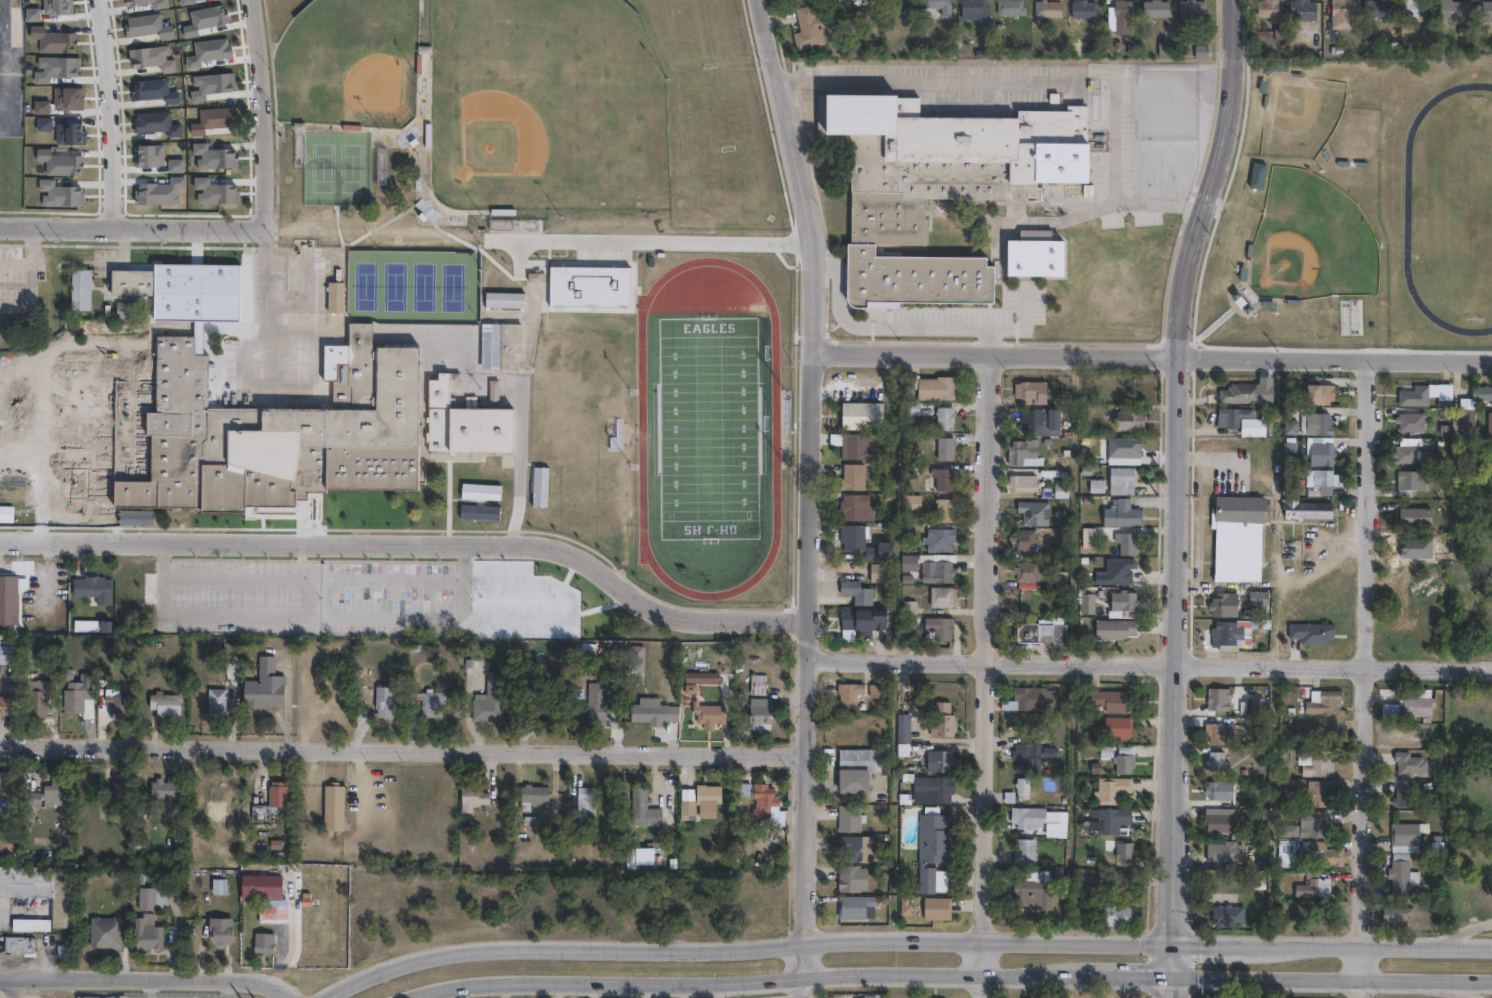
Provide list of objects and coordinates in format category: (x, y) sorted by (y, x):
building: (900, 0)
road: (2, 7)
building: (1011, 7)
building: (1049, 8)
building: (1084, 8)
building: (1301, 8)
building: (1379, 8)
building: (1414, 8)
building: (1157, 9)
building: (1268, 9)
building: (1454, 9)
building: (1486, 9)
building: (930, 11)
building: (977, 11)
building: (1125, 11)
building: (1191, 11)
building: (1339, 15)
road: (268, 19)
building: (810, 26)
road: (778, 36)
building: (1168, 48)
road: (4, 55)
park: (352, 65)
road: (1053, 82)
road: (260, 95)
park: (551, 107)
road: (110, 116)
building: (1255, 165)
building: (1257, 175)
building: (938, 186)
road: (394, 194)
road: (819, 204)
track: (1406, 207)
road: (151, 234)
road: (485, 244)
park: (1308, 247)
road: (124, 248)
building: (1035, 256)
building: (210, 267)
building: (131, 280)
parking lot: (21, 282)
building: (79, 287)
park: (415, 289)
building: (211, 296)
building: (334, 296)
building: (504, 299)
road: (798, 302)
building: (125, 308)
road: (182, 322)
road: (889, 328)
parking lot: (294, 336)
building: (498, 343)
building: (101, 354)
building: (127, 354)
road: (318, 356)
road: (1153, 358)
building: (930, 385)
building: (1032, 388)
building: (492, 391)
building: (1422, 391)
building: (1481, 391)
building: (1236, 393)
building: (1317, 393)
building: (913, 406)
building: (863, 415)
building: (1228, 415)
building: (945, 416)
building: (1042, 418)
building: (1127, 418)
building: (1287, 419)
building: (1409, 420)
building: (1491, 422)
building: (1312, 423)
park: (708, 427)
track: (775, 427)
building: (309, 430)
building: (855, 444)
building: (70, 445)
building: (946, 446)
building: (1407, 446)
building: (1316, 450)
building: (1024, 451)
road: (1219, 460)
road: (518, 461)
road: (1178, 466)
building: (853, 476)
building: (944, 477)
building: (1119, 479)
building: (1408, 480)
building: (1022, 481)
building: (1321, 481)
building: (53, 484)
building: (1097, 484)
building: (81, 485)
building: (1061, 489)
road: (812, 495)
road: (451, 496)
building: (912, 501)
building: (853, 506)
building: (944, 508)
building: (1304, 509)
building: (1034, 510)
building: (1119, 512)
building: (1414, 514)
road: (283, 515)
road: (254, 527)
building: (853, 536)
building: (1237, 536)
building: (939, 537)
building: (1023, 537)
building: (1123, 538)
road: (416, 539)
building: (880, 551)
building: (909, 561)
building: (941, 567)
building: (1027, 570)
building: (1115, 570)
building: (880, 571)
building: (1061, 578)
building: (94, 588)
building: (856, 592)
building: (942, 594)
parking lot: (313, 596)
building: (1257, 597)
building: (10, 598)
building: (1125, 601)
building: (1086, 602)
building: (1216, 604)
building: (909, 606)
road: (288, 615)
road: (343, 618)
building: (863, 619)
building: (938, 627)
building: (1112, 627)
building: (1309, 630)
building: (1043, 631)
building: (1222, 634)
building: (1490, 642)
building: (231, 650)
building: (583, 651)
road: (1365, 652)
building: (5, 654)
building: (634, 659)
road: (1150, 664)
road: (987, 677)
building: (757, 685)
building: (266, 687)
building: (76, 691)
building: (848, 694)
building: (1216, 696)
building: (36, 697)
building: (1030, 698)
building: (489, 699)
building: (1321, 699)
building: (1106, 700)
building: (116, 701)
building: (383, 701)
building: (218, 702)
building: (1409, 702)
building: (426, 703)
building: (1257, 703)
building: (165, 704)
building: (595, 704)
building: (4, 705)
building: (655, 711)
building: (536, 712)
building: (764, 712)
building: (709, 714)
building: (942, 720)
building: (1114, 727)
road: (920, 730)
building: (1216, 730)
building: (904, 734)
road: (404, 750)
building: (939, 759)
building: (1215, 759)
building: (1025, 760)
building: (1319, 761)
building: (1406, 761)
building: (1120, 763)
building: (860, 770)
building: (4, 781)
building: (938, 788)
building: (1021, 788)
building: (1217, 788)
building: (121, 789)
building: (1108, 789)
building: (164, 790)
building: (1313, 791)
building: (534, 793)
building: (1285, 793)
building: (1399, 795)
building: (473, 796)
building: (708, 797)
building: (47, 798)
building: (273, 800)
building: (761, 801)
building: (585, 802)
building: (687, 803)
building: (333, 808)
building: (643, 808)
building: (1020, 817)
building: (849, 818)
building: (1216, 818)
building: (1106, 820)
building: (1314, 822)
building: (1404, 831)
building: (7, 845)
building: (856, 846)
building: (932, 849)
building: (1121, 850)
building: (1222, 850)
building: (1024, 851)
building: (1284, 852)
building: (1332, 855)
building: (645, 856)
building: (1258, 877)
building: (1396, 877)
building: (848, 878)
building: (26, 880)
building: (1314, 884)
building: (220, 886)
building: (265, 893)
building: (1032, 893)
building: (154, 900)
building: (856, 906)
building: (937, 907)
building: (1392, 911)
building: (1222, 914)
building: (1113, 915)
building: (30, 926)
building: (222, 928)
road: (1467, 929)
building: (107, 934)
building: (149, 935)
traffic signals: (1174, 942)
building: (265, 943)
road: (291, 943)
road: (746, 944)
road: (1333, 944)
building: (20, 946)
building: (66, 953)
road: (1174, 957)
road: (1361, 962)
road: (1129, 972)
traffic signals: (1174, 972)
road: (743, 975)
road: (1332, 977)
road: (145, 978)
road: (1173, 985)
road: (13, 987)
road: (149, 988)
road: (1361, 988)
road: (230, 989)
road: (1469, 990)
road: (1469, 994)
building: (1034, 996)
building: (940, 997)

